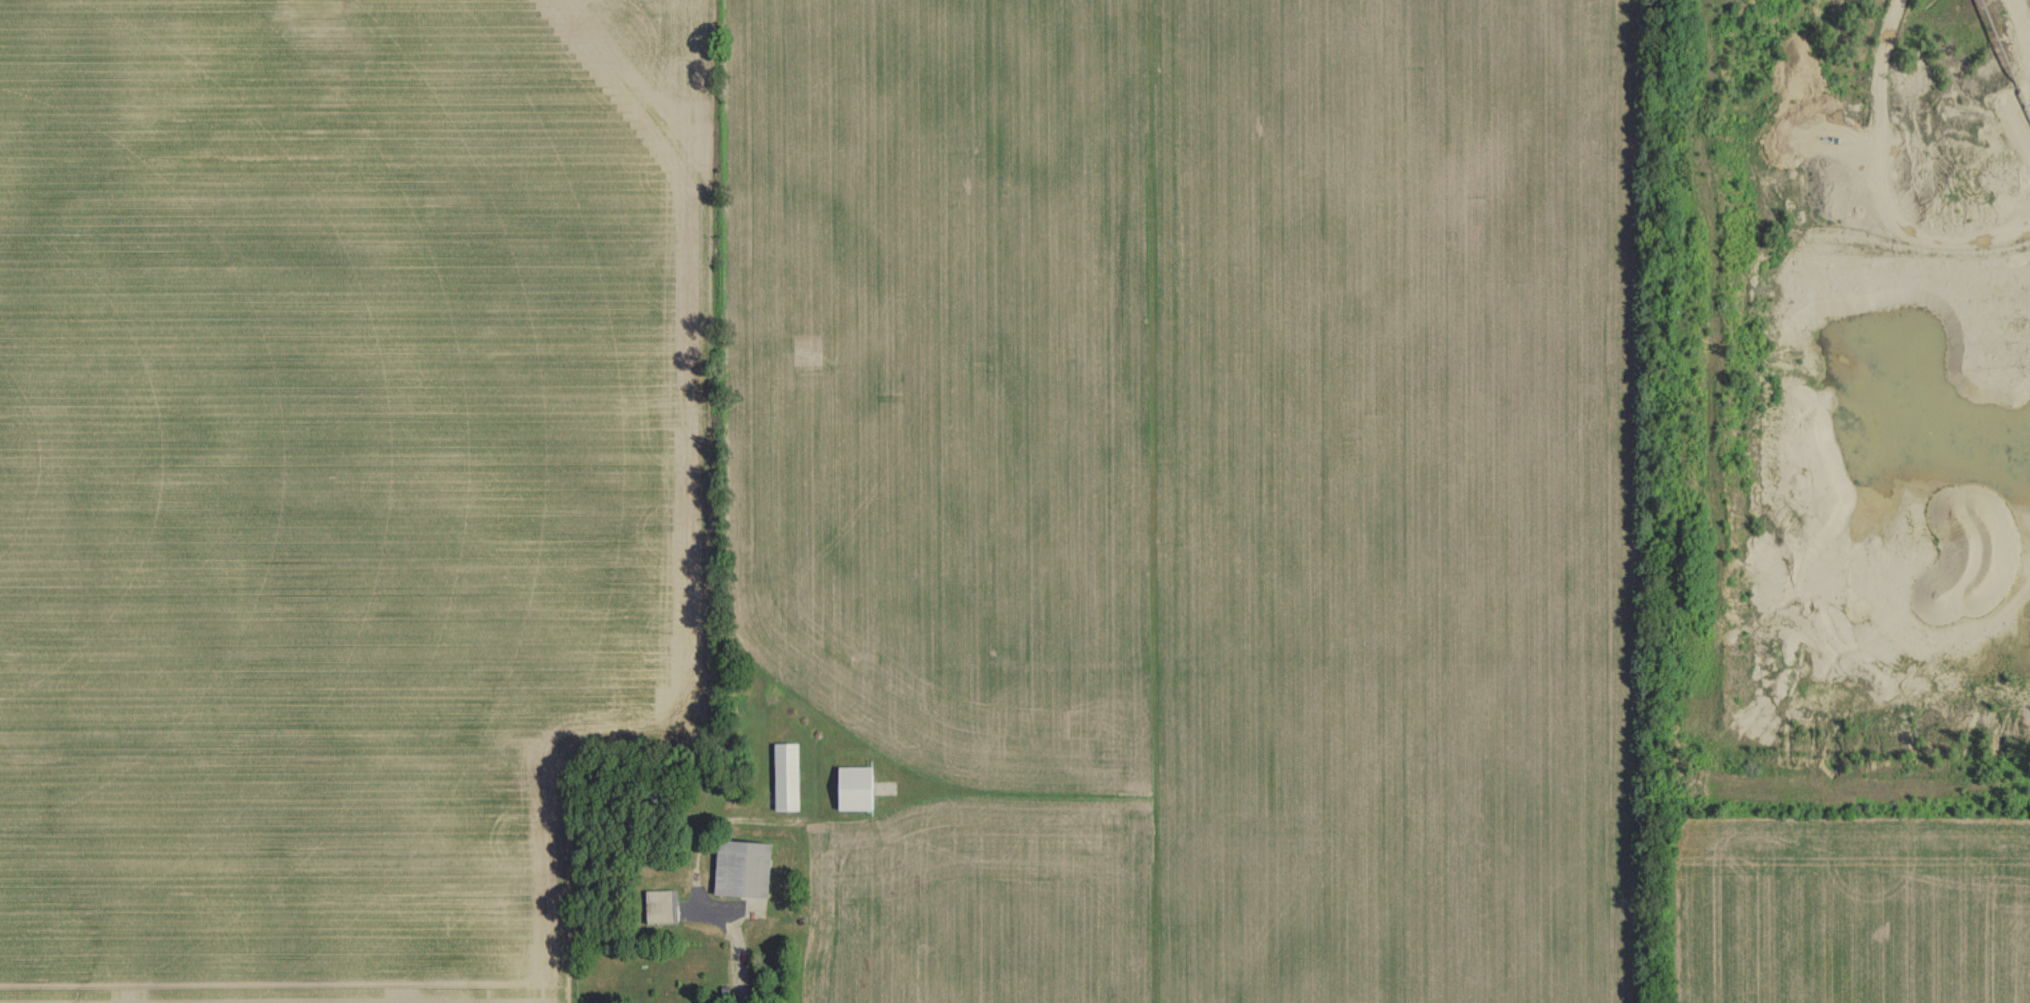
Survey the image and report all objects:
quarry: (1840, 402)
building: (1822, 500)
building: (787, 776)
building: (856, 788)
building: (744, 869)
building: (661, 907)
road: (739, 957)

